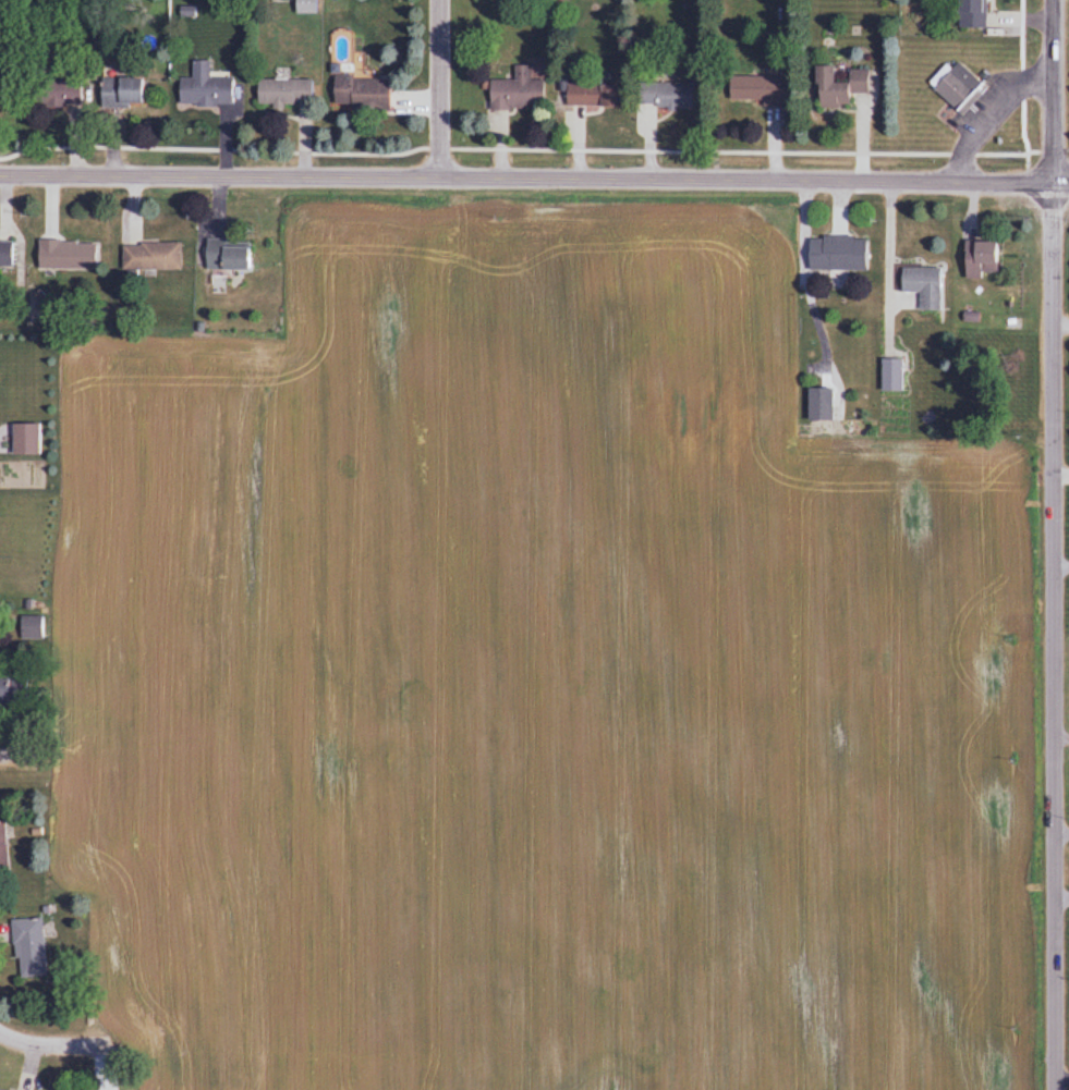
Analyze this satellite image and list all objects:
building: (304, 7)
building: (969, 13)
building: (956, 85)
building: (836, 86)
building: (203, 87)
building: (753, 88)
road: (439, 89)
building: (515, 90)
building: (52, 91)
building: (119, 91)
building: (283, 91)
building: (360, 93)
building: (663, 94)
building: (591, 95)
road: (534, 180)
building: (835, 253)
building: (5, 254)
building: (64, 255)
building: (223, 255)
building: (149, 257)
building: (979, 258)
building: (921, 285)
building: (889, 381)
building: (817, 404)
building: (25, 439)
road: (1034, 544)
road: (1052, 558)
building: (32, 627)
building: (11, 690)
road: (1053, 730)
road: (23, 757)
building: (2, 849)
road: (1053, 890)
building: (28, 947)
road: (54, 1044)

